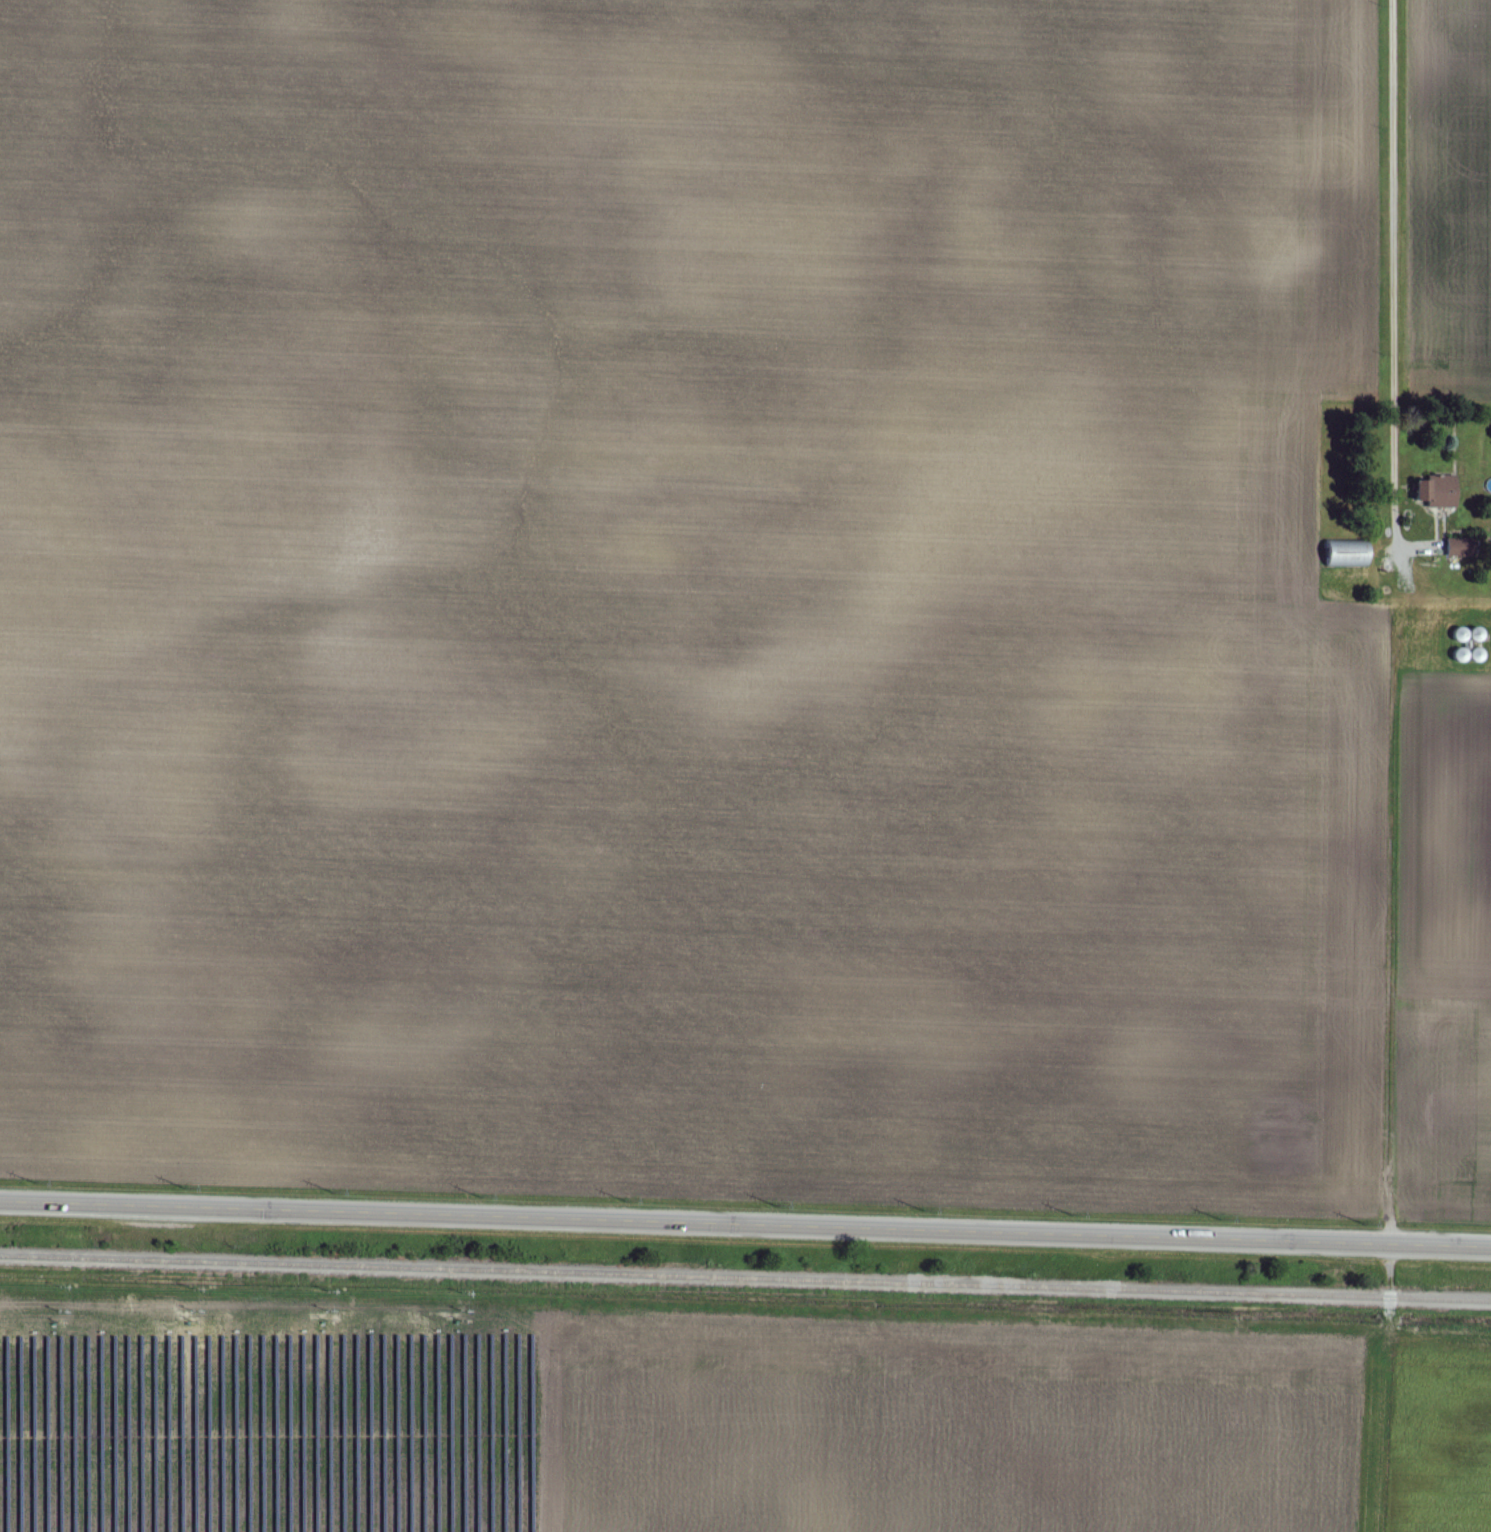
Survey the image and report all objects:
road: (1393, 275)
road: (745, 1227)
railway: (745, 1281)
solar farm: (267, 1416)

